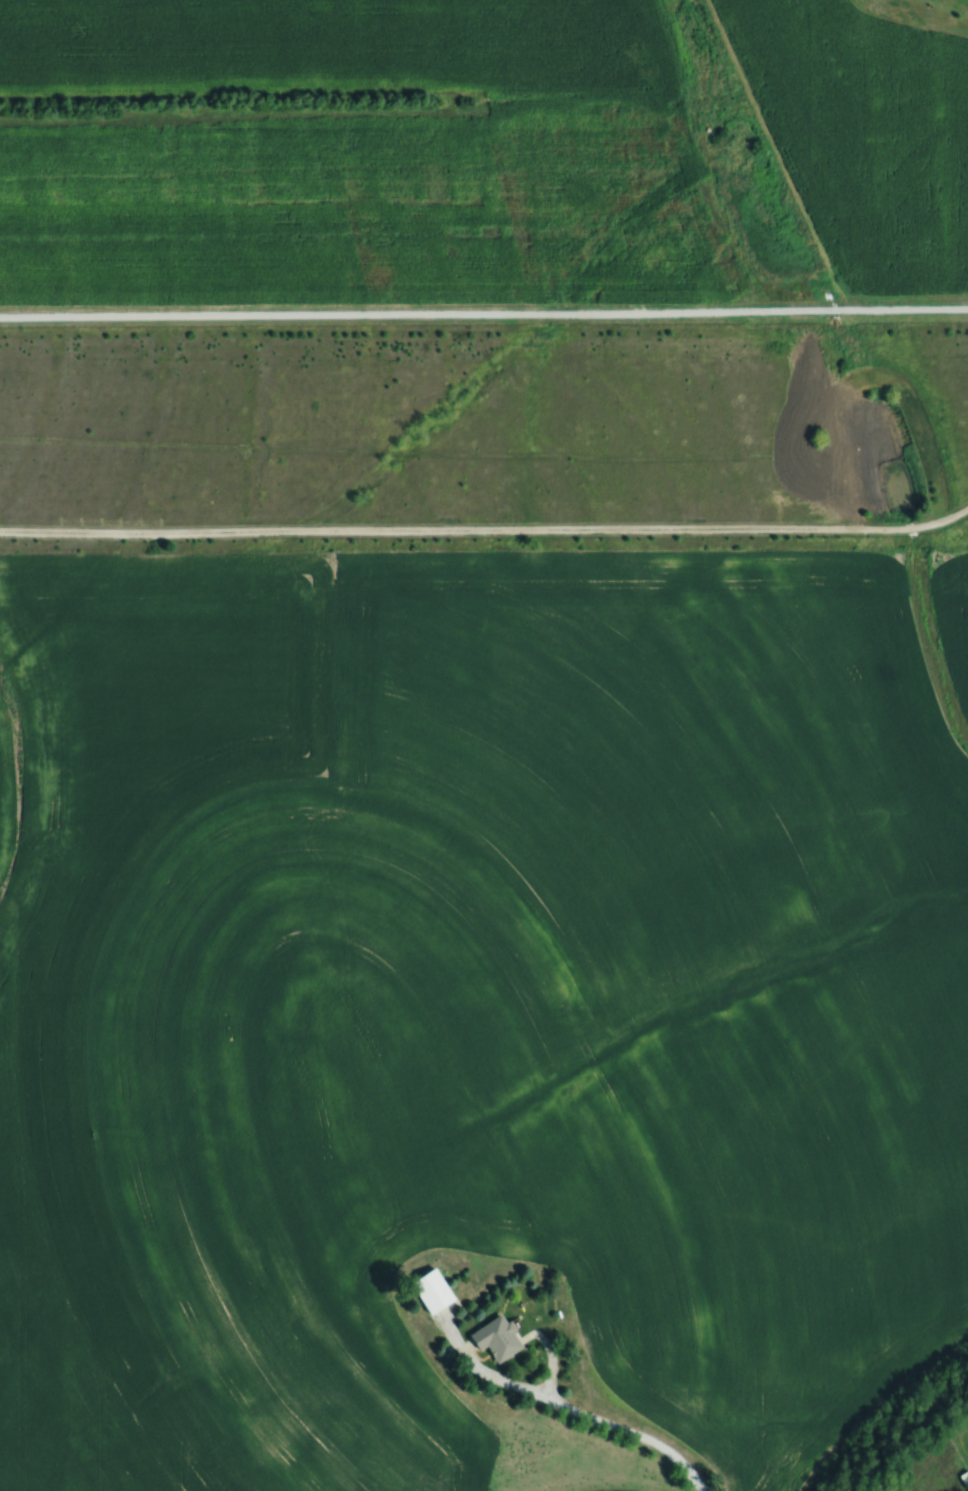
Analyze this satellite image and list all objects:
road: (484, 318)
road: (486, 529)
building: (436, 1289)
building: (501, 1336)
road: (583, 1420)

